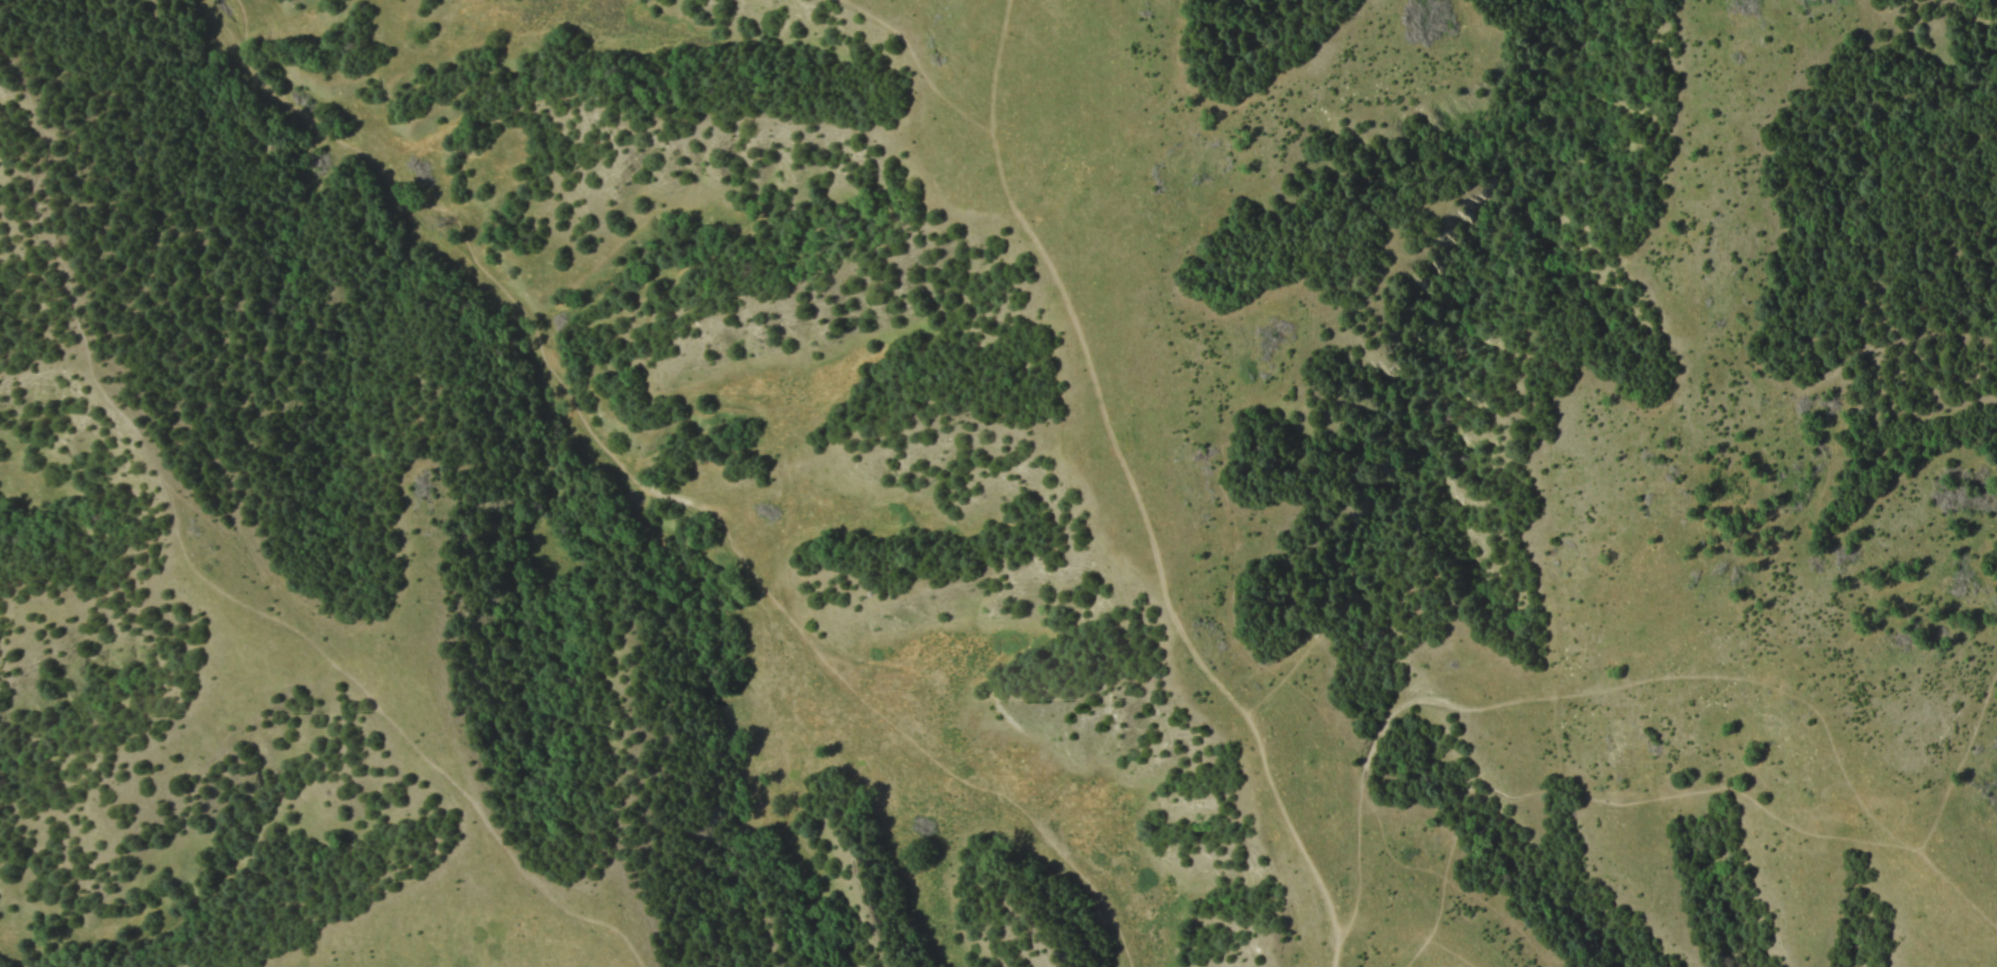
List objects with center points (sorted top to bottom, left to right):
road: (913, 60)
road: (101, 76)
road: (25, 91)
road: (49, 237)
road: (1497, 243)
crop: (998, 483)
road: (666, 490)
road: (1136, 492)
road: (1338, 612)
road: (336, 661)
road: (1572, 694)
road: (1958, 758)
road: (1598, 799)
road: (1956, 898)
road: (1425, 924)

